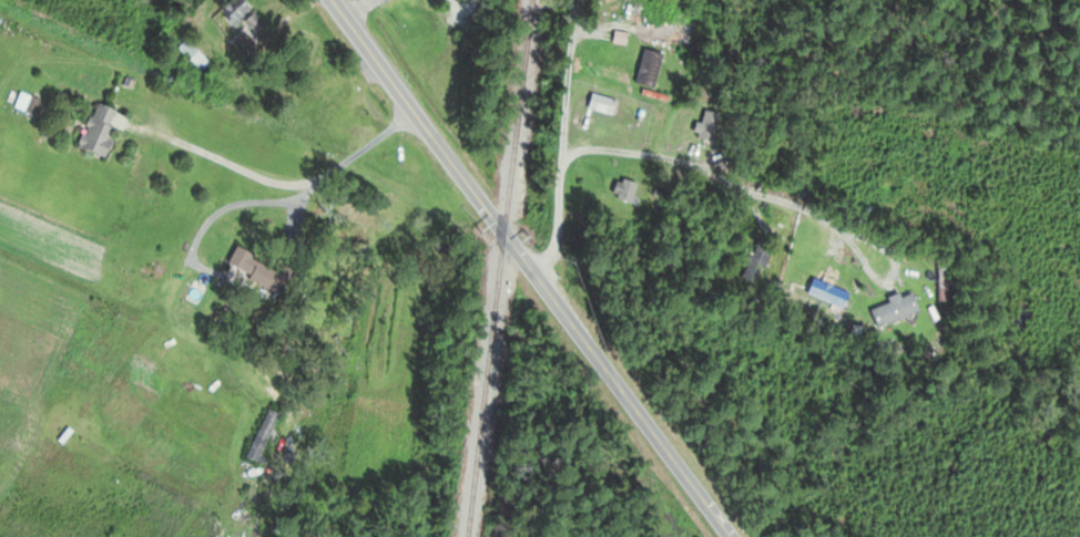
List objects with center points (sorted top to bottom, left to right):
road: (357, 9)
building: (237, 17)
building: (190, 59)
building: (645, 70)
building: (599, 105)
building: (704, 127)
building: (95, 132)
road: (560, 142)
road: (276, 180)
building: (623, 193)
road: (783, 199)
road: (295, 209)
road: (213, 215)
building: (236, 260)
building: (753, 264)
railway: (498, 268)
road: (529, 269)
building: (816, 291)
building: (891, 310)
building: (258, 436)

